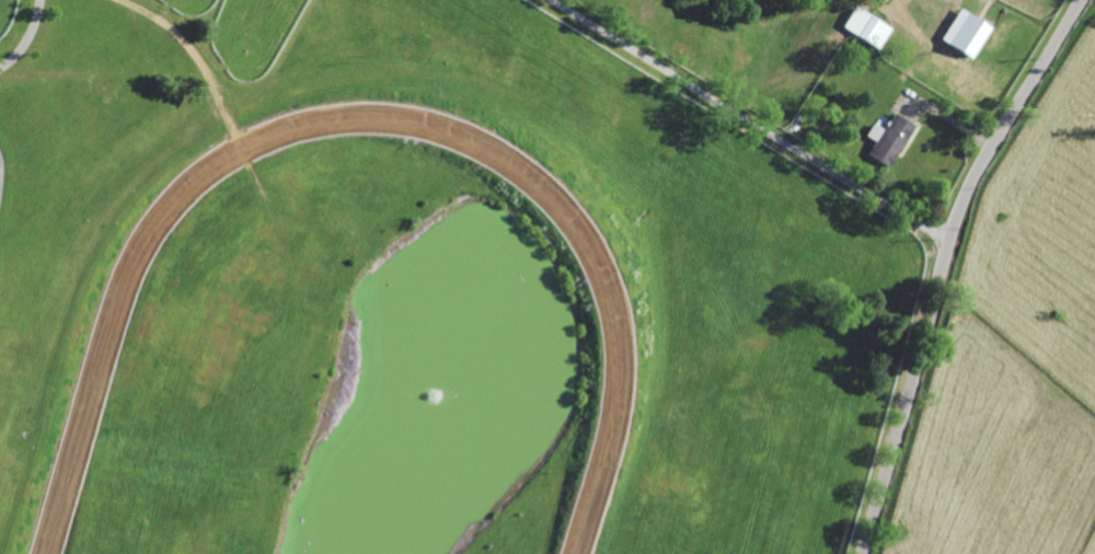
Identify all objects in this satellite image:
building: (868, 26)
building: (963, 32)
road: (26, 36)
building: (931, 68)
road: (710, 97)
building: (856, 113)
building: (889, 137)
road: (910, 218)
road: (943, 264)

